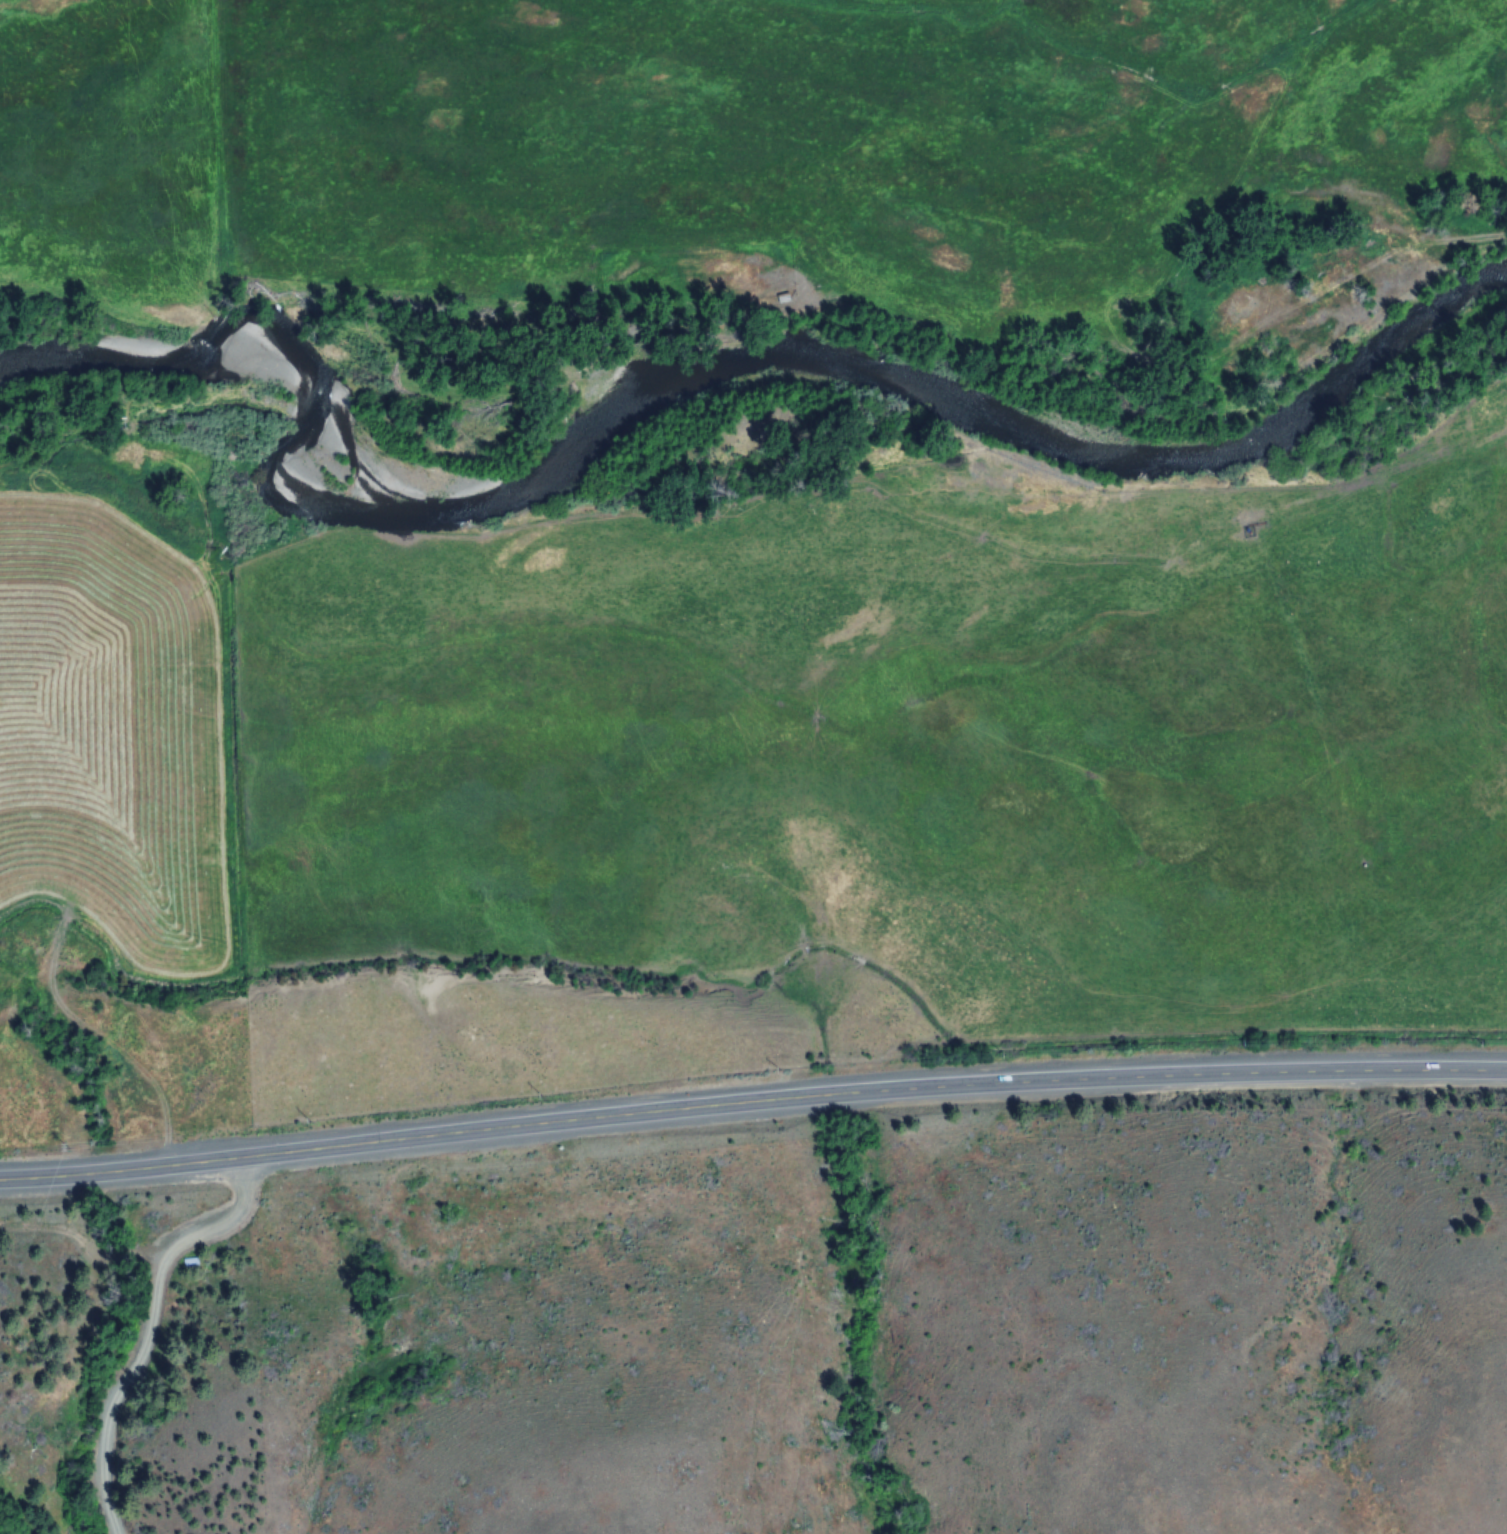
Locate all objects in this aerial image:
river: (738, 372)
road: (752, 1104)
road: (163, 1324)

